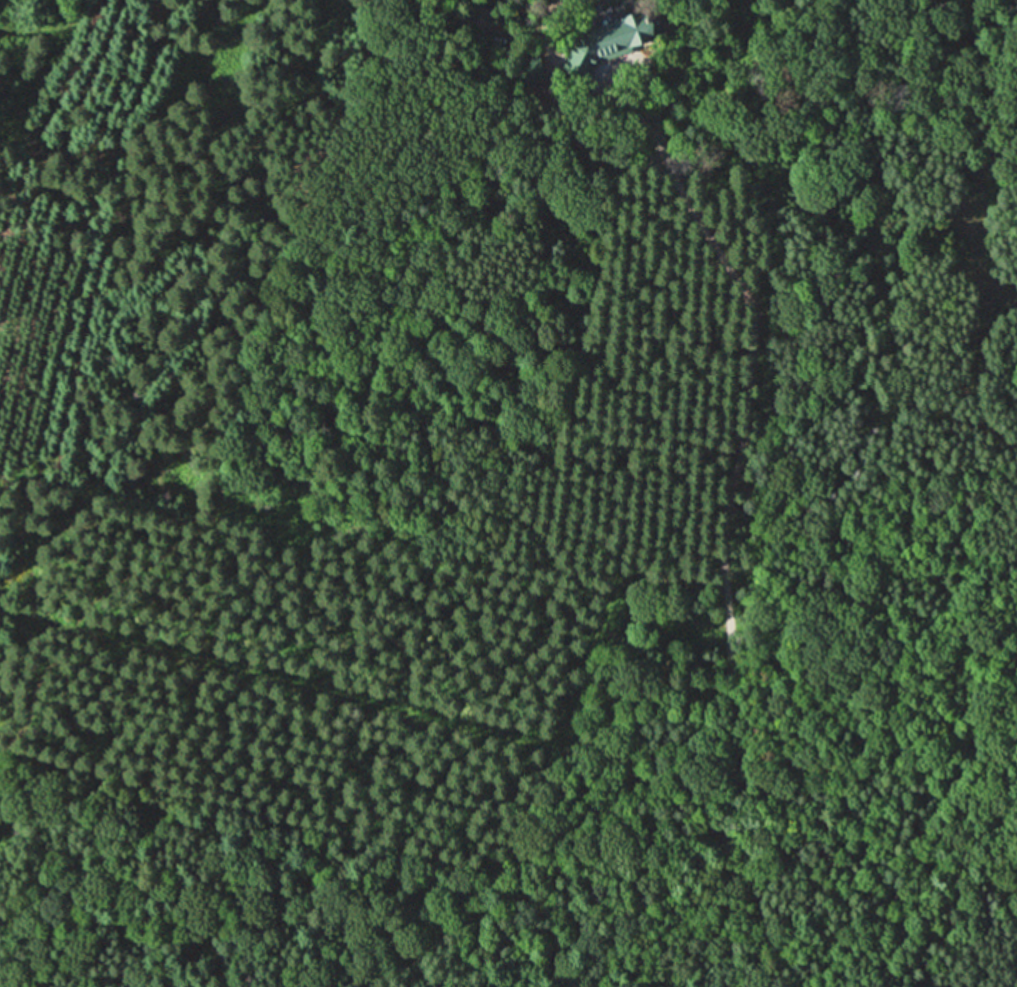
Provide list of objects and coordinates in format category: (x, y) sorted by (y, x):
building: (616, 37)
road: (1, 828)

